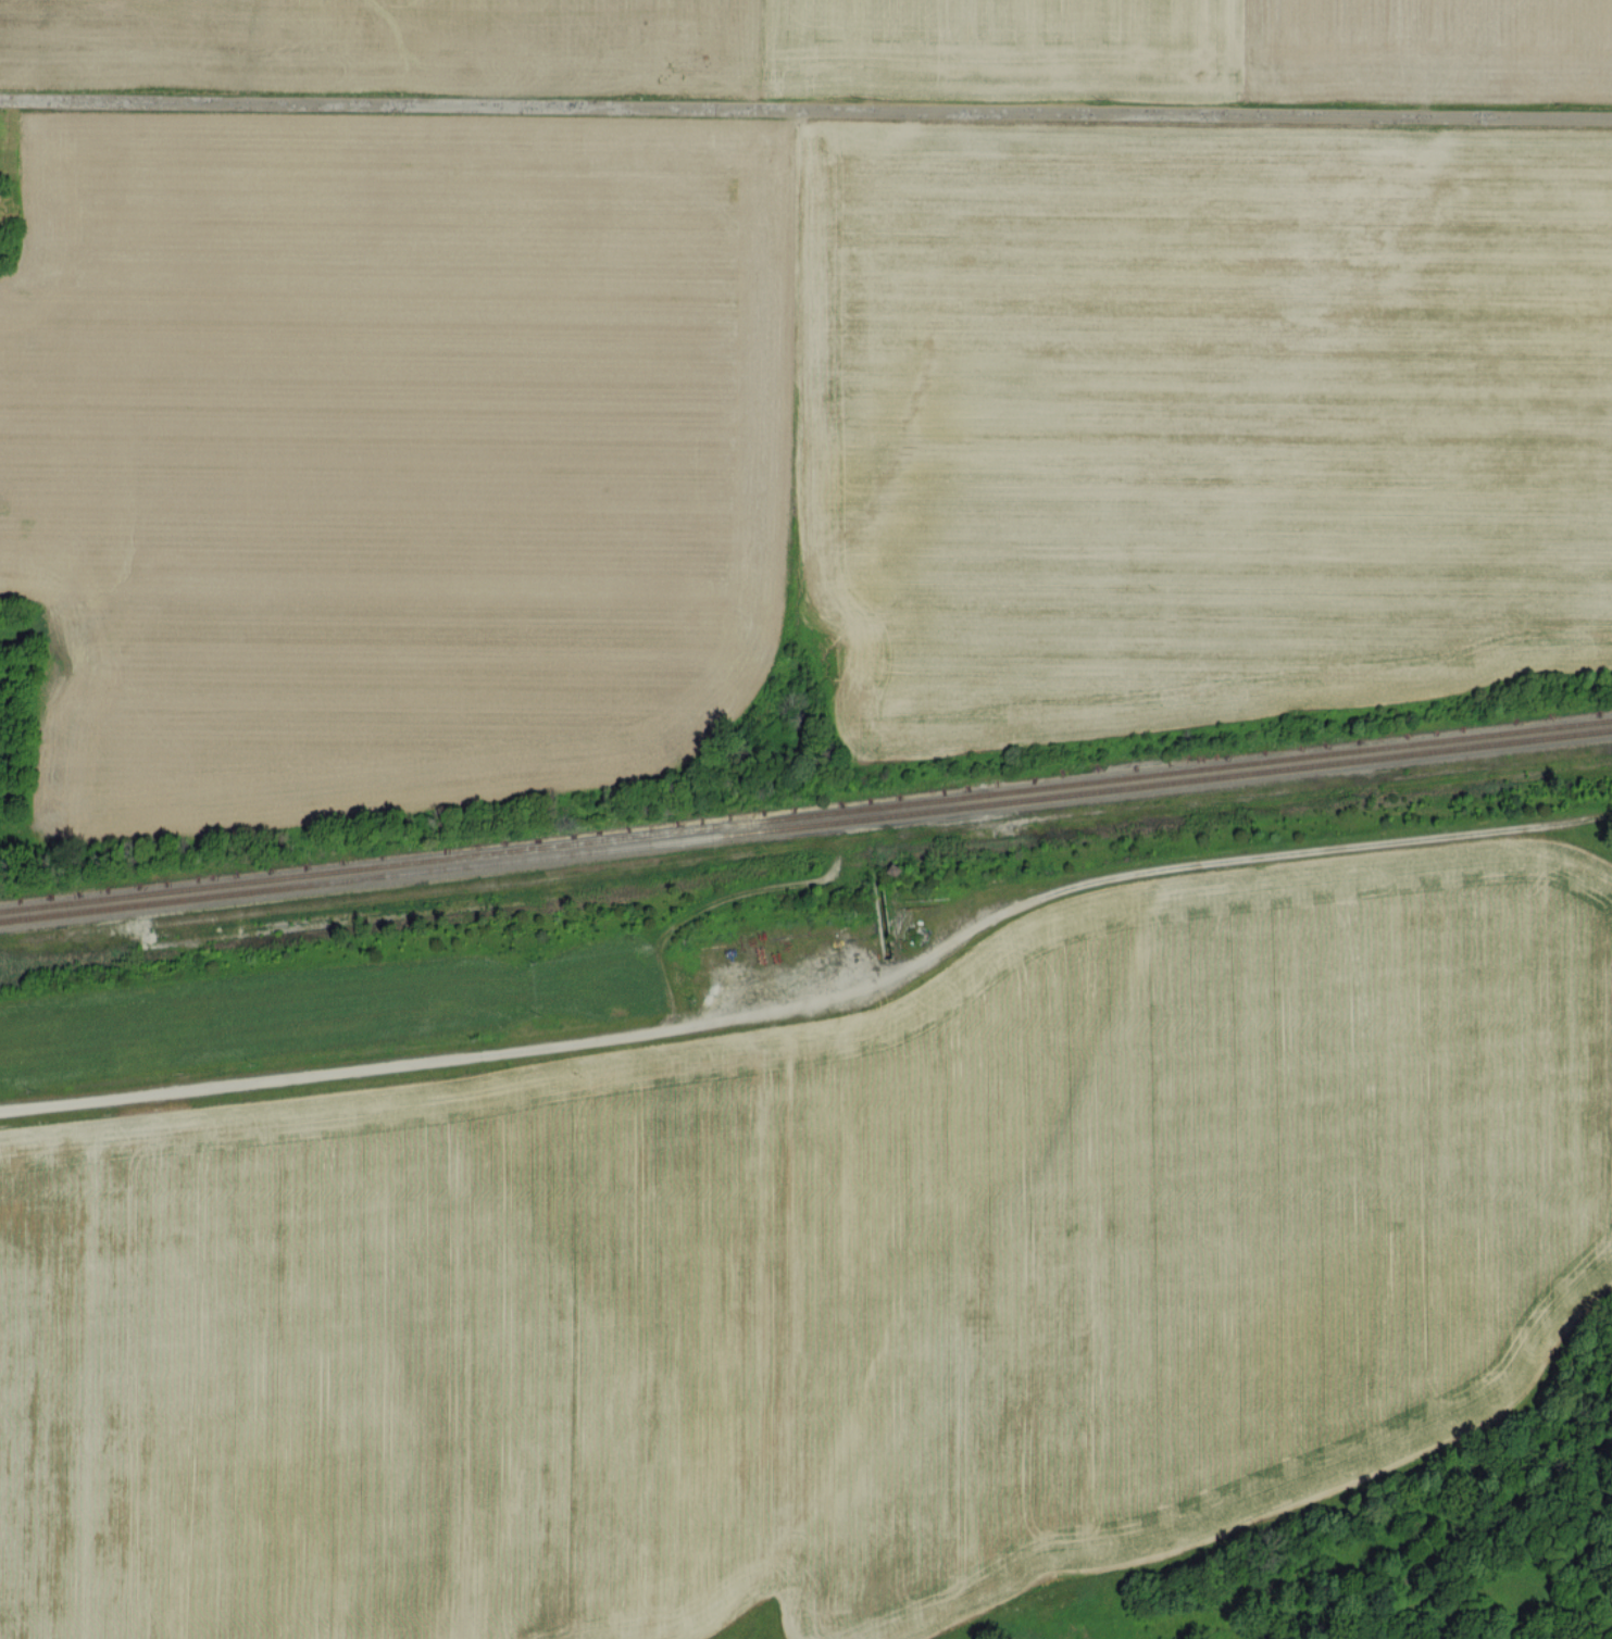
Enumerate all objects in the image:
road: (805, 108)
crop: (395, 464)
railway: (805, 814)
railway: (805, 825)
road: (327, 1072)

